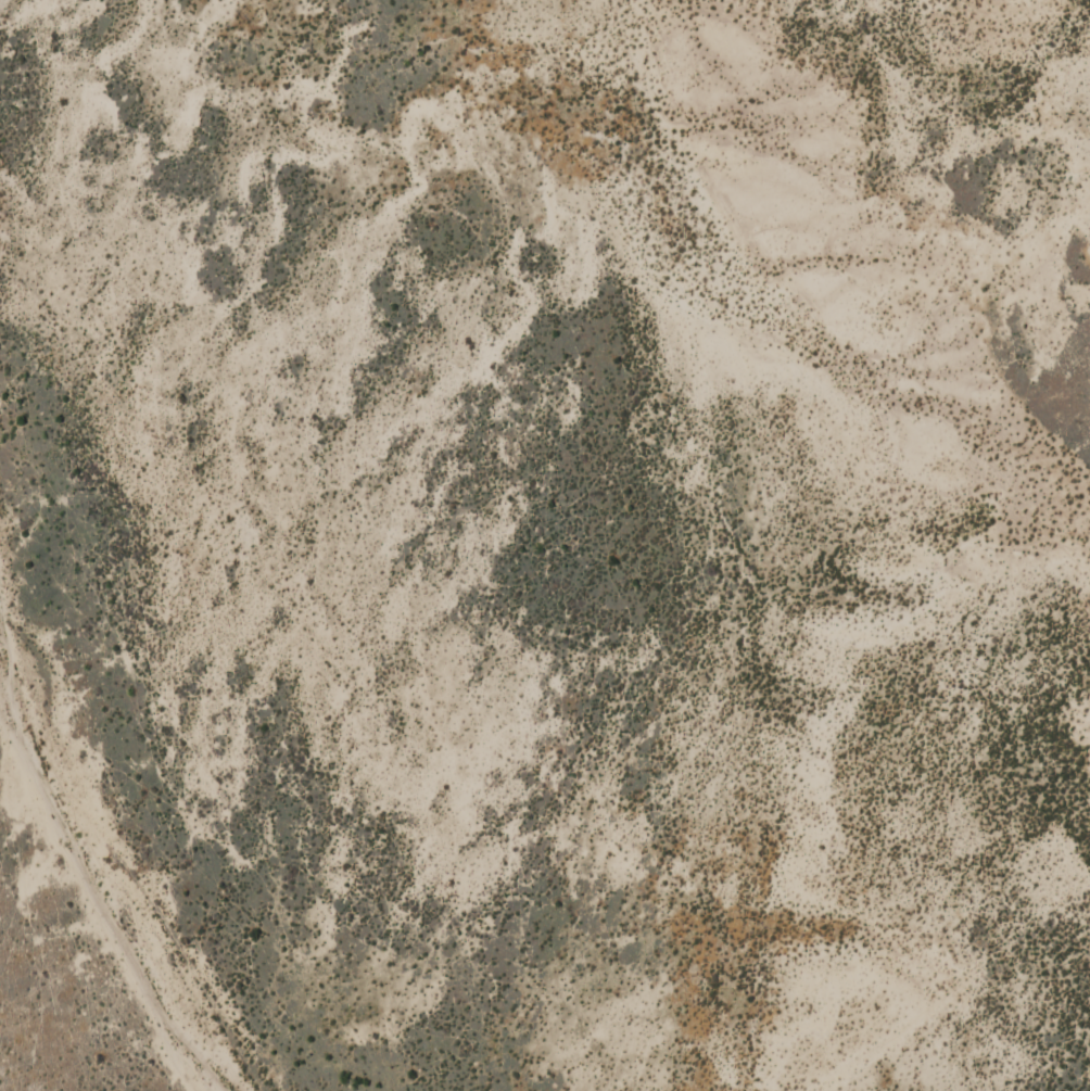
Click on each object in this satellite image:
road: (66, 784)

